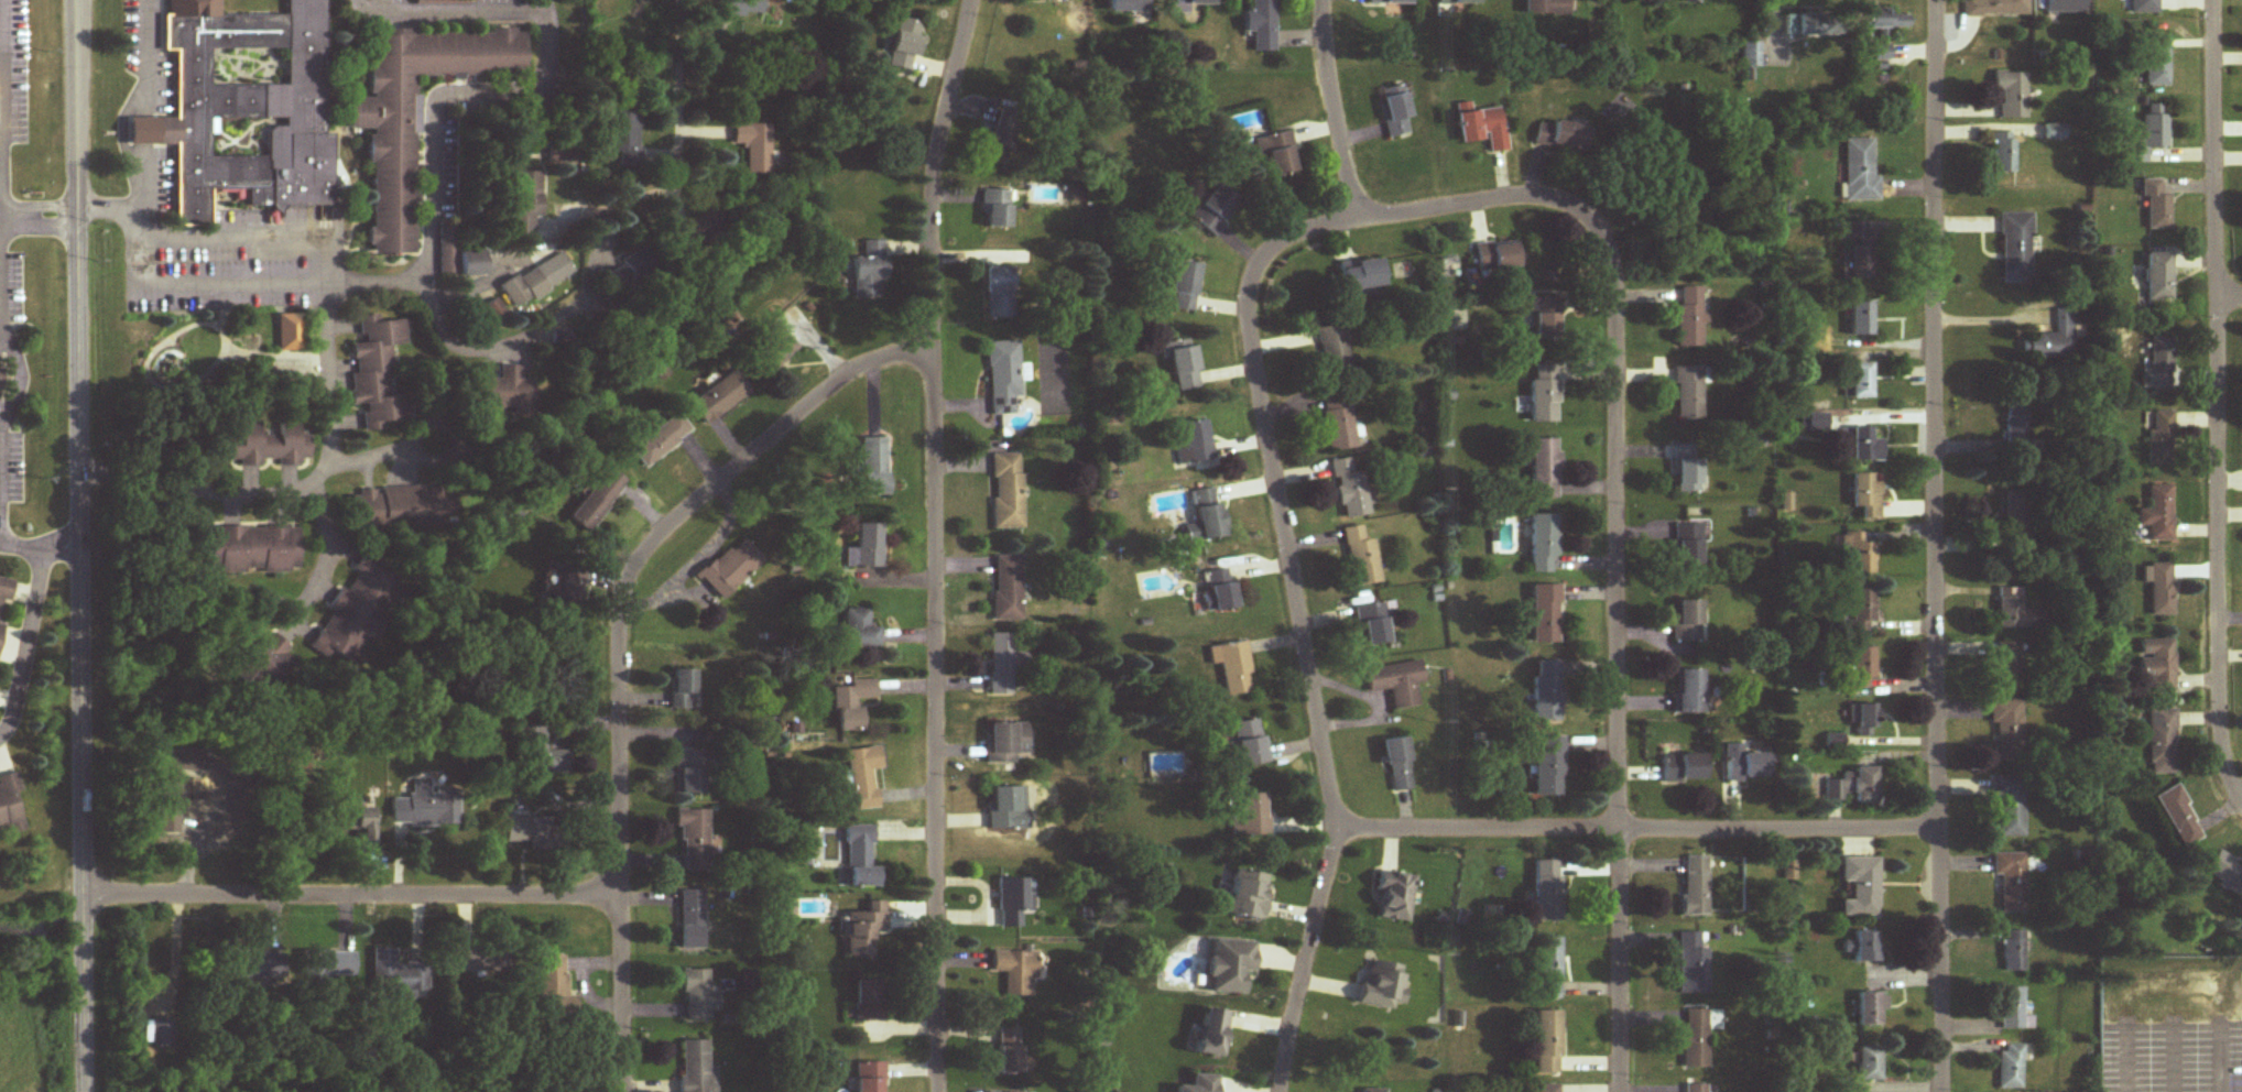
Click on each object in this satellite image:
building: (1043, 0)
building: (1688, 1)
building: (1193, 2)
building: (1390, 2)
building: (1459, 2)
building: (1128, 6)
building: (2143, 7)
building: (741, 8)
building: (1546, 8)
building: (1994, 8)
building: (2064, 8)
building: (1261, 24)
building: (1806, 26)
building: (1882, 30)
road: (1774, 32)
building: (904, 45)
building: (1749, 55)
road: (139, 57)
building: (2156, 62)
building: (2010, 96)
road: (676, 102)
road: (1331, 109)
building: (250, 110)
building: (1395, 112)
road: (140, 129)
building: (1482, 129)
building: (2147, 135)
building: (622, 136)
building: (1559, 136)
building: (752, 146)
building: (995, 148)
building: (1276, 153)
building: (2003, 153)
building: (1860, 172)
road: (139, 175)
building: (392, 192)
building: (525, 205)
building: (2155, 206)
building: (994, 209)
building: (1215, 209)
road: (35, 211)
road: (426, 240)
building: (2016, 245)
building: (448, 254)
building: (1495, 256)
building: (1862, 263)
building: (471, 264)
building: (629, 270)
building: (870, 272)
building: (1360, 276)
building: (2157, 277)
road: (485, 280)
building: (536, 281)
road: (170, 283)
building: (1182, 286)
building: (999, 293)
road: (2229, 301)
building: (492, 309)
building: (1689, 317)
building: (1862, 319)
building: (1544, 320)
building: (291, 332)
road: (523, 335)
building: (2051, 341)
building: (773, 349)
building: (1332, 351)
building: (1179, 364)
building: (2158, 365)
building: (379, 374)
building: (1002, 378)
building: (1862, 381)
building: (507, 392)
building: (1688, 393)
building: (1544, 394)
building: (719, 398)
road: (2217, 404)
building: (1337, 423)
building: (2016, 427)
road: (1, 436)
building: (2159, 437)
building: (660, 441)
building: (1193, 445)
building: (271, 447)
building: (1865, 447)
road: (371, 451)
building: (873, 469)
building: (1544, 470)
building: (1688, 477)
road: (203, 484)
building: (1348, 489)
road: (1275, 490)
building: (1006, 492)
building: (1866, 496)
building: (598, 502)
building: (389, 509)
building: (2157, 514)
building: (2017, 524)
building: (1205, 525)
road: (1615, 532)
road: (935, 544)
road: (78, 545)
building: (1543, 545)
building: (1687, 545)
road: (1936, 546)
building: (866, 548)
building: (253, 550)
road: (39, 552)
building: (1860, 554)
building: (1359, 558)
building: (730, 568)
building: (563, 589)
building: (1006, 589)
building: (6, 591)
building: (1218, 591)
building: (1862, 611)
building: (2015, 611)
building: (358, 614)
building: (1545, 615)
building: (1688, 622)
building: (1374, 624)
building: (856, 630)
building: (0, 631)
road: (620, 638)
road: (23, 648)
building: (1004, 662)
building: (260, 664)
building: (2010, 664)
building: (2156, 666)
building: (1232, 668)
building: (1864, 668)
building: (1396, 684)
building: (684, 689)
building: (1546, 691)
building: (1690, 692)
building: (851, 705)
building: (1864, 720)
building: (2007, 729)
building: (2161, 742)
building: (1005, 743)
building: (1249, 744)
building: (538, 752)
building: (1165, 765)
building: (1396, 765)
building: (1750, 766)
building: (1547, 767)
building: (1684, 767)
building: (690, 773)
building: (862, 777)
building: (1854, 787)
building: (10, 808)
building: (2007, 808)
building: (1005, 809)
building: (436, 812)
building: (1250, 817)
building: (2179, 817)
building: (363, 823)
road: (1640, 831)
building: (533, 832)
building: (694, 841)
building: (860, 859)
building: (2010, 882)
building: (1695, 886)
building: (1860, 887)
building: (1546, 893)
building: (1247, 896)
road: (351, 897)
building: (1393, 898)
building: (1012, 902)
building: (692, 920)
building: (864, 931)
building: (1866, 948)
building: (2012, 952)
road: (1307, 957)
building: (482, 960)
building: (1693, 964)
building: (330, 965)
building: (1228, 967)
building: (249, 969)
building: (1547, 969)
building: (1015, 973)
building: (398, 975)
building: (1381, 986)
building: (555, 989)
building: (696, 996)
building: (869, 1001)
building: (1870, 1009)
building: (2010, 1009)
building: (157, 1034)
building: (1210, 1034)
building: (1695, 1039)
building: (1547, 1042)
building: (1008, 1055)
building: (1869, 1064)
building: (2010, 1067)
building: (696, 1068)
building: (868, 1078)
building: (1199, 1084)
building: (1545, 1088)
building: (1695, 1088)
building: (1371, 1091)

